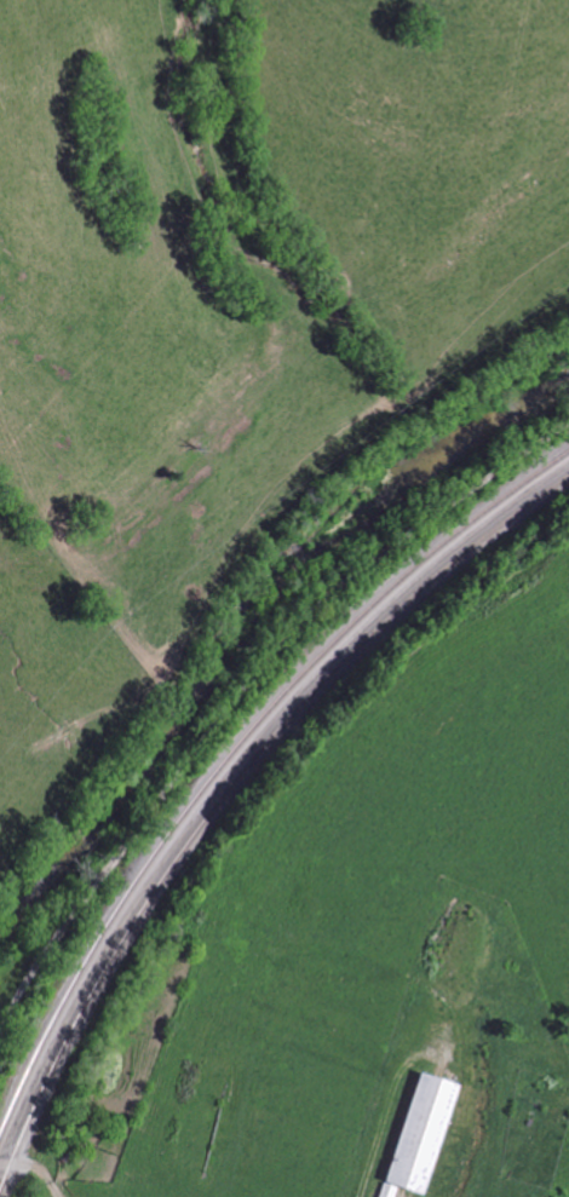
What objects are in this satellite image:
road: (241, 691)
railway: (235, 749)
railway: (226, 783)
building: (420, 1135)
road: (33, 1170)

